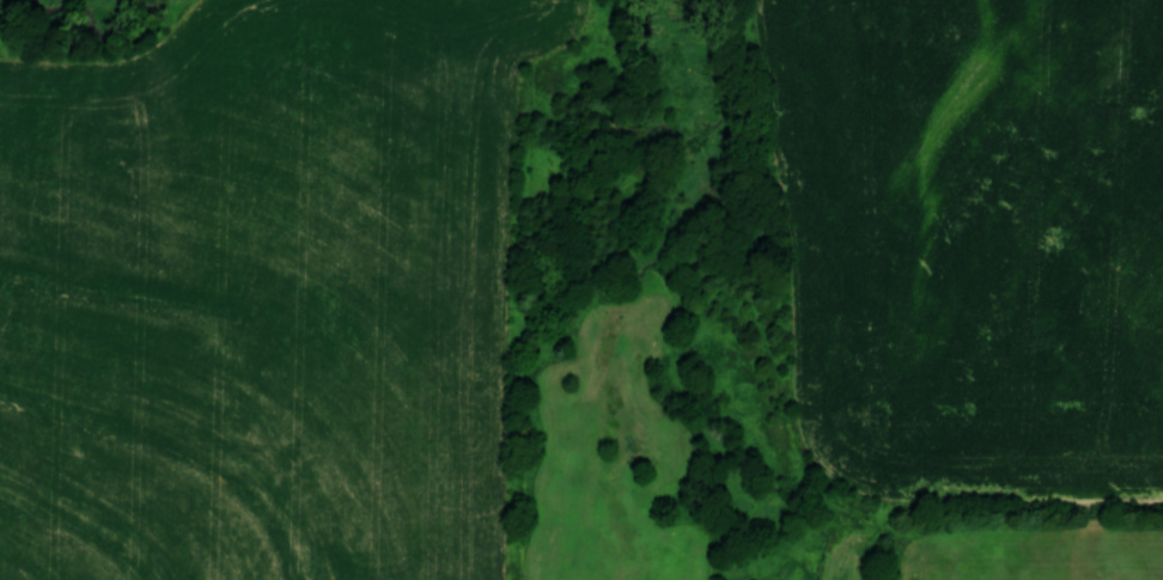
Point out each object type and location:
crop: (973, 240)

